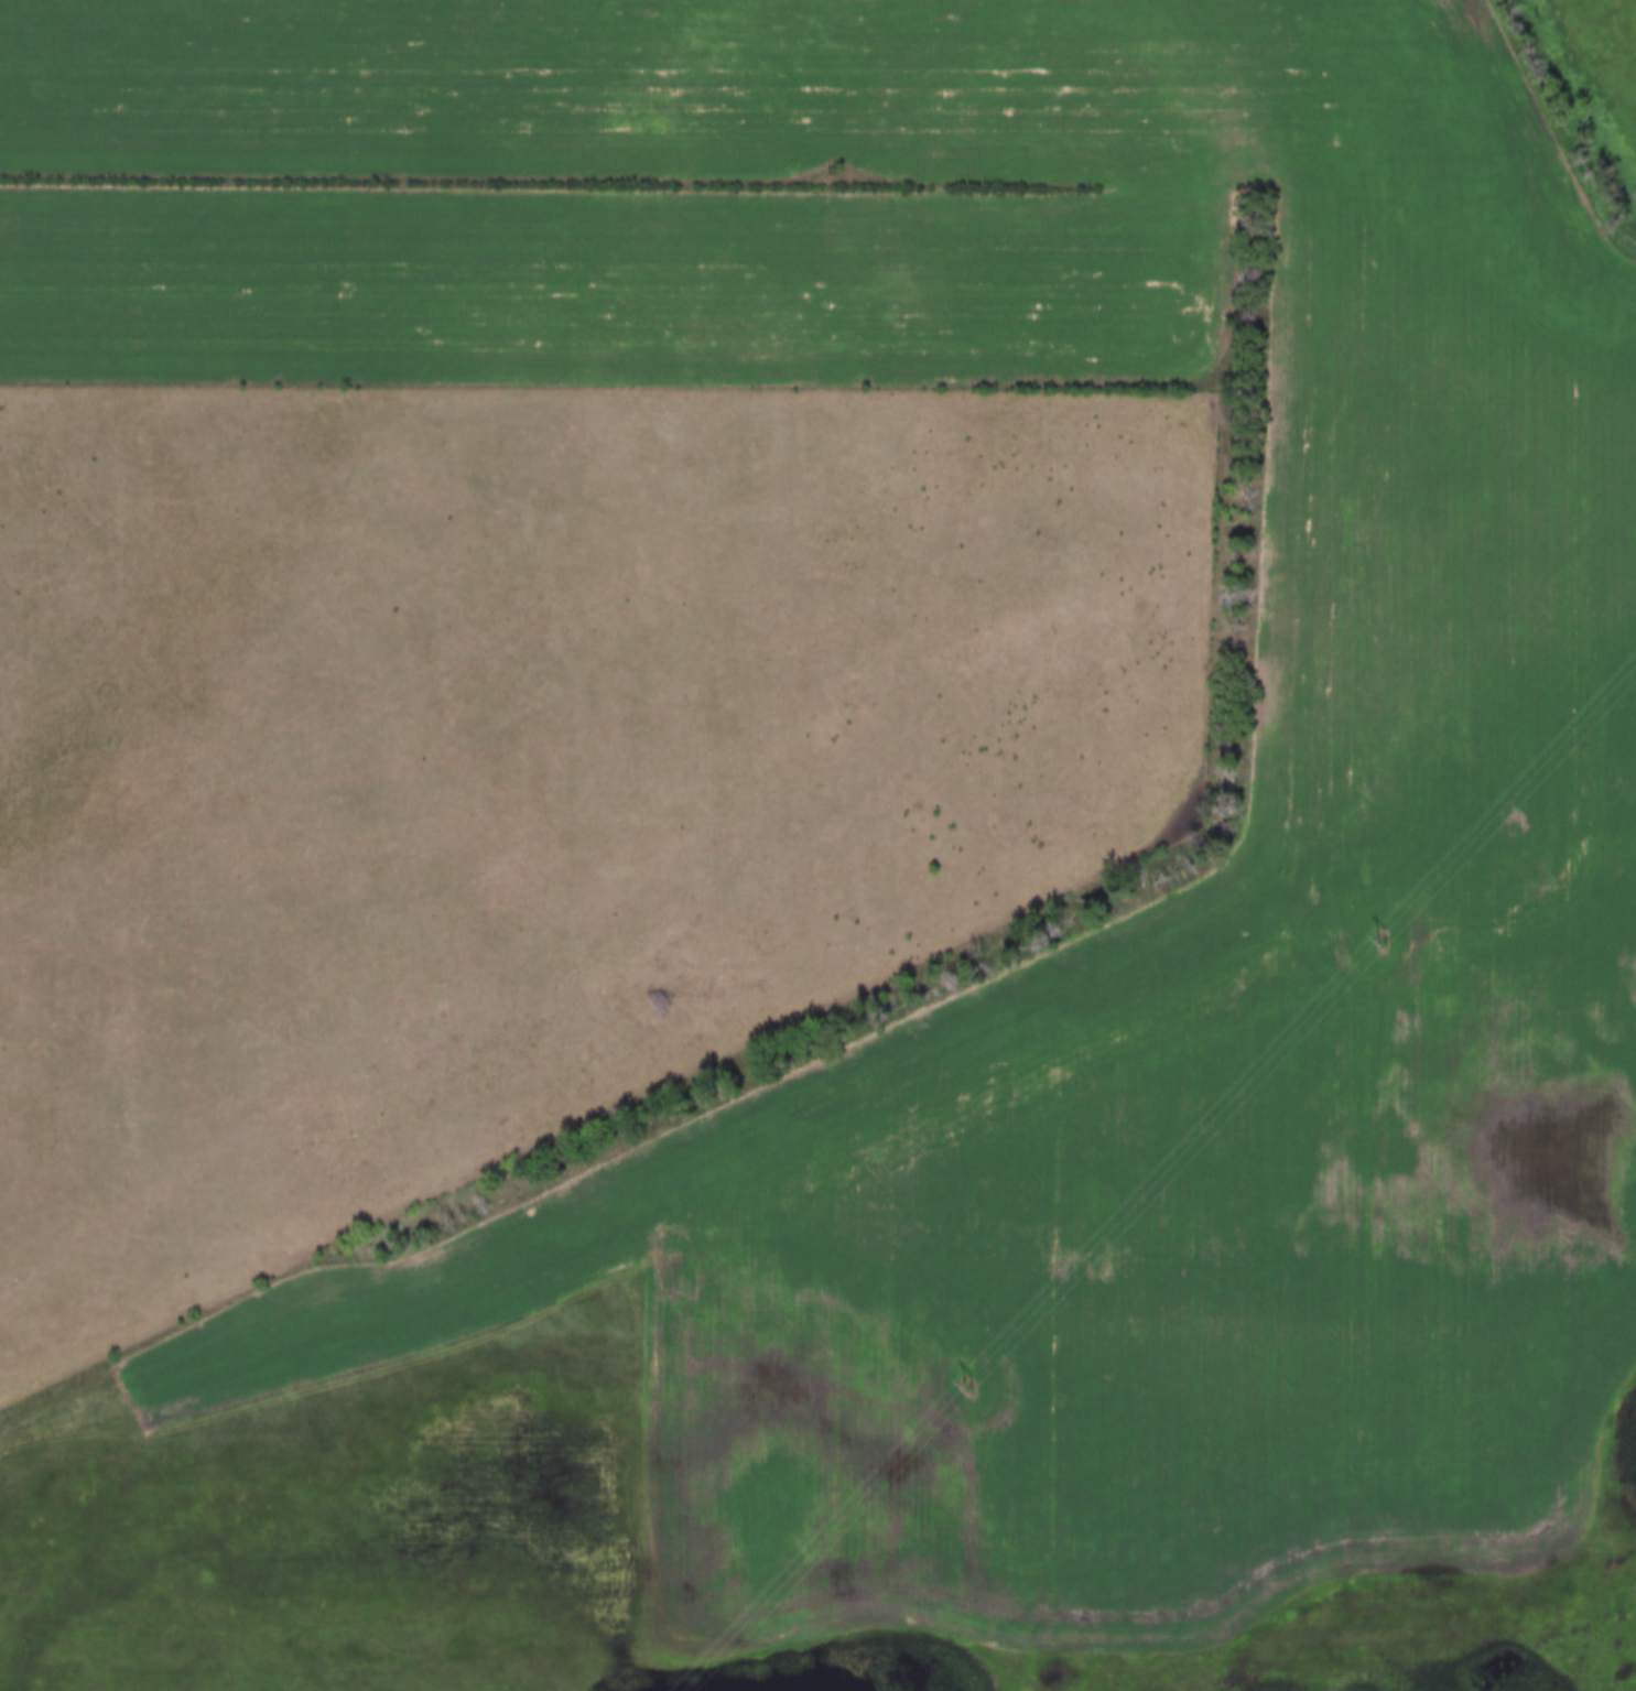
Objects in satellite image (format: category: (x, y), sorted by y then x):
power tower: (1384, 942)
power tower: (971, 1388)

